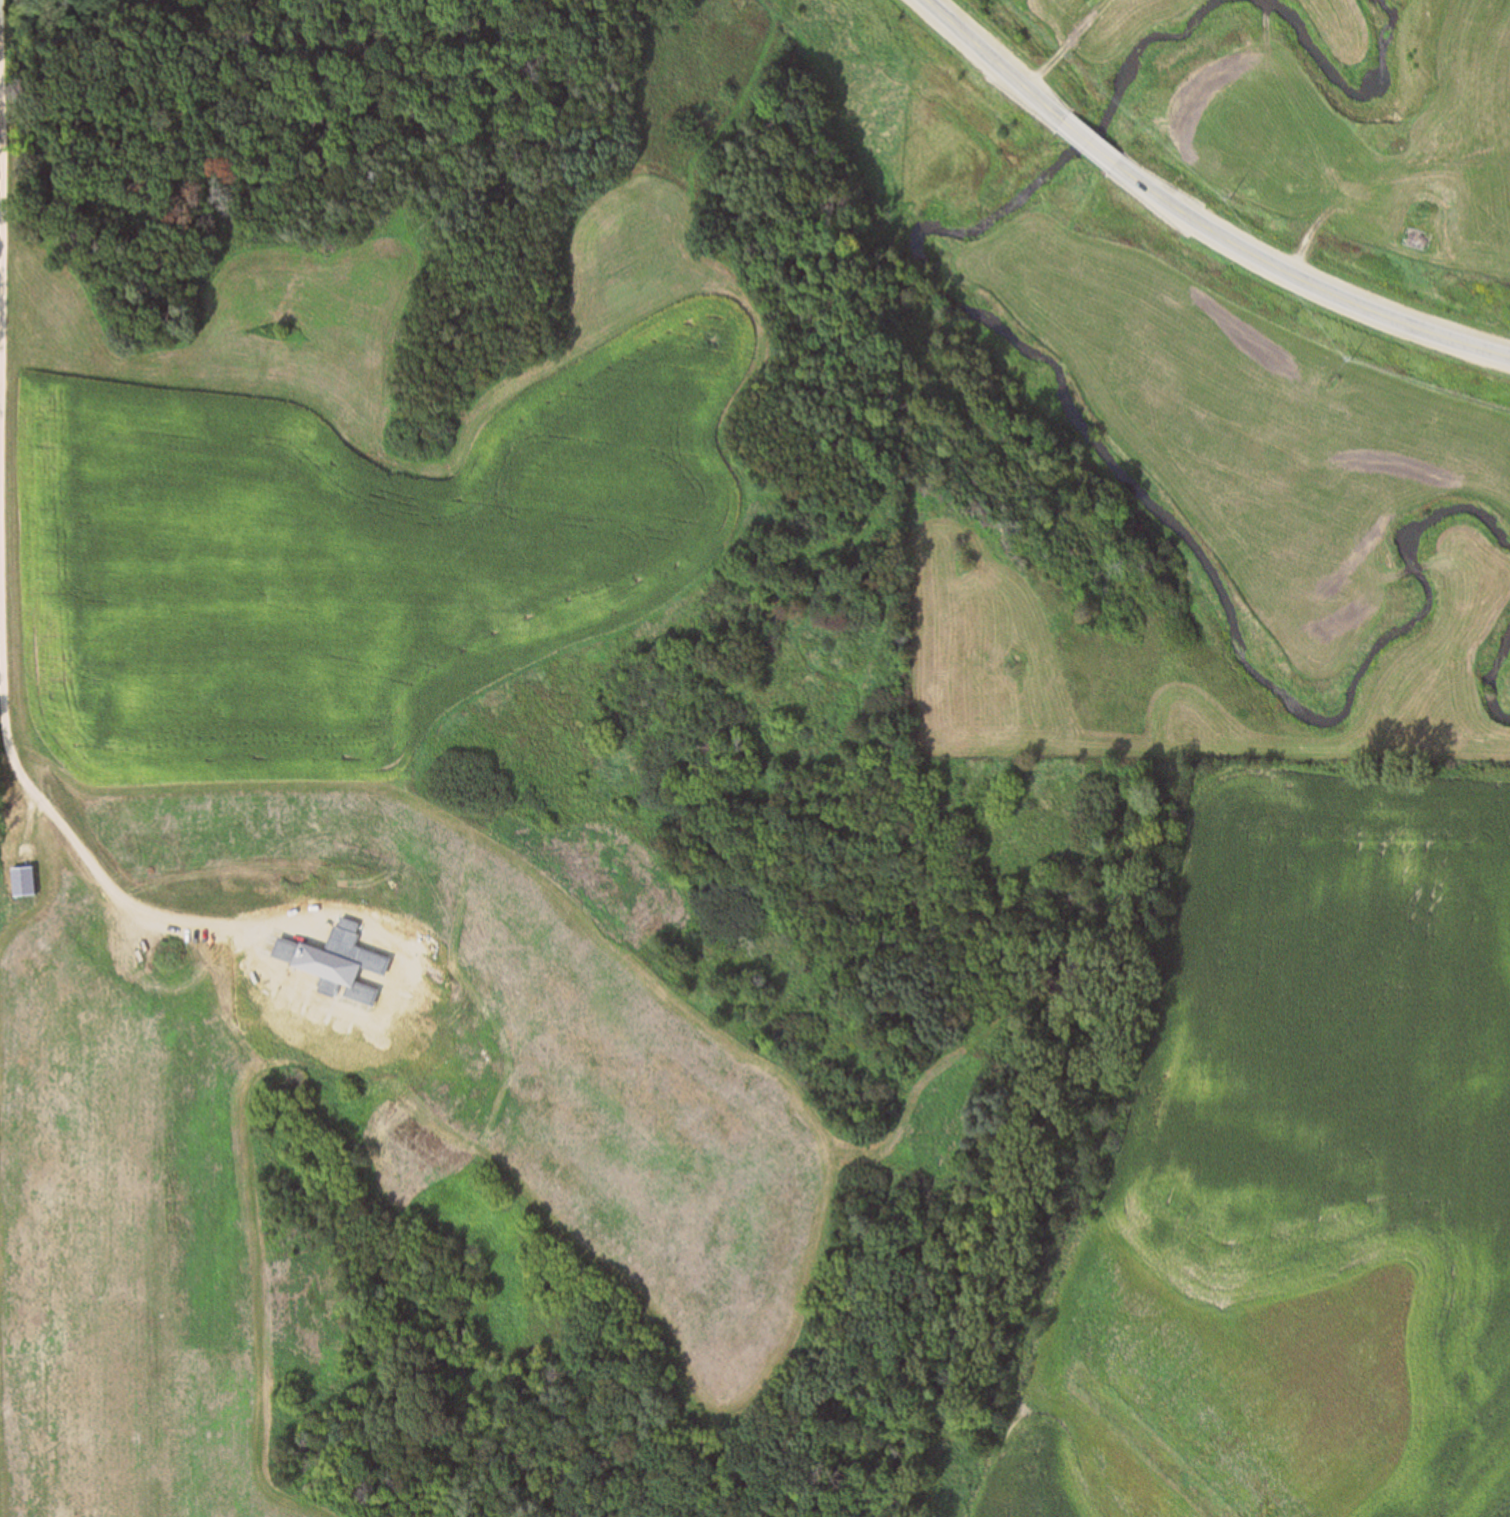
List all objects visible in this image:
road: (994, 61)
road: (1089, 145)
building: (1416, 241)
road: (1303, 281)
road: (2, 444)

